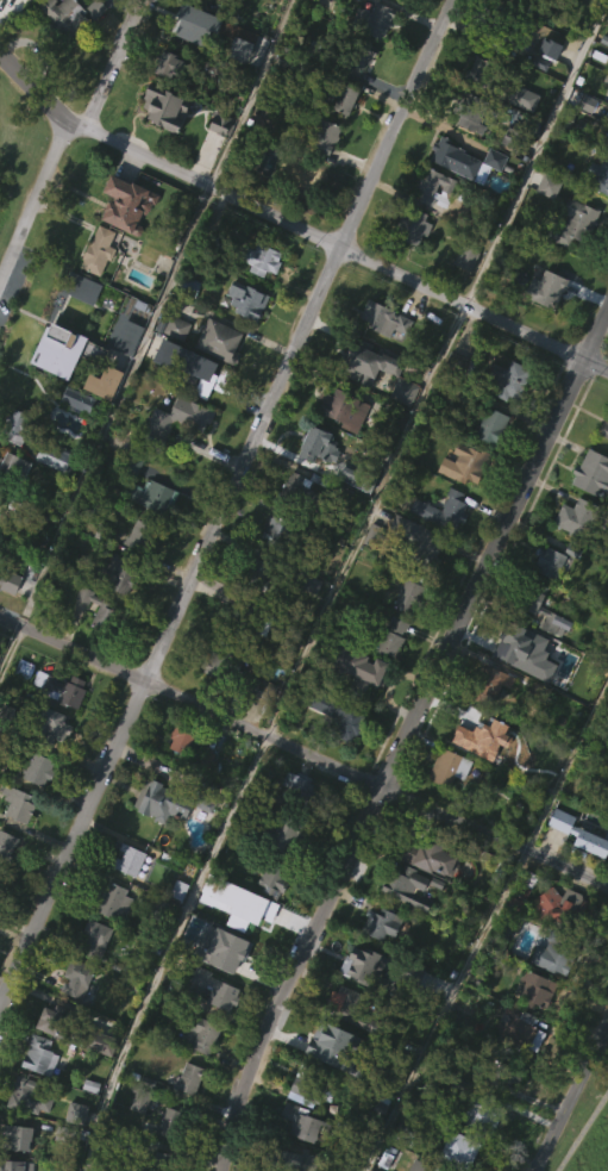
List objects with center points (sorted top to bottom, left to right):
building: (518, 0)
building: (527, 0)
building: (21, 12)
building: (62, 17)
building: (372, 19)
building: (201, 24)
building: (500, 30)
building: (358, 51)
building: (62, 57)
road: (113, 64)
building: (165, 66)
building: (192, 66)
building: (482, 70)
building: (214, 71)
building: (234, 74)
road: (32, 89)
building: (546, 91)
building: (237, 92)
building: (359, 96)
building: (521, 96)
building: (334, 99)
building: (158, 106)
building: (537, 106)
building: (470, 110)
building: (320, 135)
building: (520, 139)
building: (606, 139)
building: (341, 143)
park: (14, 148)
building: (162, 150)
building: (464, 158)
building: (217, 166)
building: (598, 172)
building: (322, 179)
building: (431, 188)
building: (464, 203)
road: (35, 204)
building: (129, 204)
building: (596, 218)
building: (572, 222)
building: (407, 225)
building: (546, 226)
building: (431, 231)
building: (123, 247)
building: (201, 247)
road: (338, 248)
building: (95, 250)
building: (263, 259)
building: (571, 266)
building: (409, 269)
building: (546, 288)
building: (244, 299)
building: (80, 300)
building: (463, 300)
building: (382, 318)
building: (175, 326)
building: (79, 330)
building: (543, 331)
building: (120, 338)
building: (220, 341)
building: (243, 342)
building: (75, 359)
building: (364, 361)
building: (457, 365)
road: (435, 367)
building: (174, 369)
building: (125, 378)
building: (503, 378)
building: (211, 381)
building: (75, 398)
building: (369, 401)
building: (188, 407)
building: (341, 407)
building: (177, 421)
building: (101, 424)
building: (489, 425)
building: (15, 426)
building: (603, 426)
building: (400, 435)
building: (75, 443)
building: (315, 444)
building: (338, 450)
building: (48, 456)
building: (176, 460)
building: (469, 461)
building: (488, 468)
building: (12, 469)
building: (589, 472)
building: (306, 490)
building: (151, 494)
road: (225, 504)
building: (460, 506)
building: (441, 509)
building: (13, 511)
building: (590, 515)
building: (573, 518)
building: (277, 531)
building: (137, 536)
building: (418, 541)
building: (440, 553)
building: (547, 561)
building: (566, 561)
building: (253, 572)
building: (115, 573)
building: (274, 574)
building: (134, 577)
building: (409, 591)
building: (537, 604)
building: (95, 610)
building: (115, 616)
building: (244, 618)
building: (14, 621)
building: (308, 625)
building: (407, 635)
building: (389, 637)
building: (534, 641)
building: (503, 644)
road: (10, 647)
building: (355, 667)
building: (262, 668)
building: (234, 669)
building: (389, 678)
building: (488, 684)
building: (62, 687)
building: (356, 710)
building: (333, 712)
building: (6, 722)
building: (52, 724)
building: (464, 728)
building: (487, 729)
road: (402, 731)
building: (181, 737)
road: (303, 752)
building: (338, 759)
building: (50, 767)
building: (446, 767)
building: (465, 767)
building: (36, 770)
building: (177, 781)
building: (302, 793)
building: (173, 799)
building: (17, 803)
building: (445, 809)
building: (36, 811)
building: (277, 833)
building: (578, 833)
building: (158, 843)
building: (7, 847)
building: (427, 855)
building: (129, 858)
building: (578, 876)
building: (271, 878)
building: (403, 885)
building: (6, 889)
building: (522, 889)
building: (427, 899)
building: (111, 902)
building: (126, 902)
building: (562, 905)
building: (255, 914)
building: (270, 921)
building: (380, 923)
building: (405, 929)
building: (514, 940)
building: (89, 941)
building: (111, 942)
road: (167, 949)
building: (553, 952)
building: (234, 953)
building: (358, 963)
building: (377, 965)
building: (75, 978)
building: (90, 980)
building: (534, 989)
building: (214, 990)
building: (347, 1009)
road: (445, 1010)
building: (409, 1014)
building: (74, 1020)
building: (521, 1027)
building: (74, 1030)
building: (202, 1035)
building: (319, 1041)
building: (37, 1055)
building: (513, 1069)
building: (201, 1076)
building: (186, 1079)
building: (306, 1080)
building: (330, 1082)
road: (569, 1092)
building: (29, 1096)
building: (479, 1116)
building: (186, 1119)
building: (169, 1121)
building: (302, 1121)
park: (587, 1135)
building: (15, 1136)
road: (587, 1136)
building: (137, 1142)
building: (458, 1150)
building: (74, 1154)
building: (475, 1154)
building: (296, 1159)
building: (168, 1160)
building: (155, 1163)
building: (7, 1165)
building: (424, 1165)

